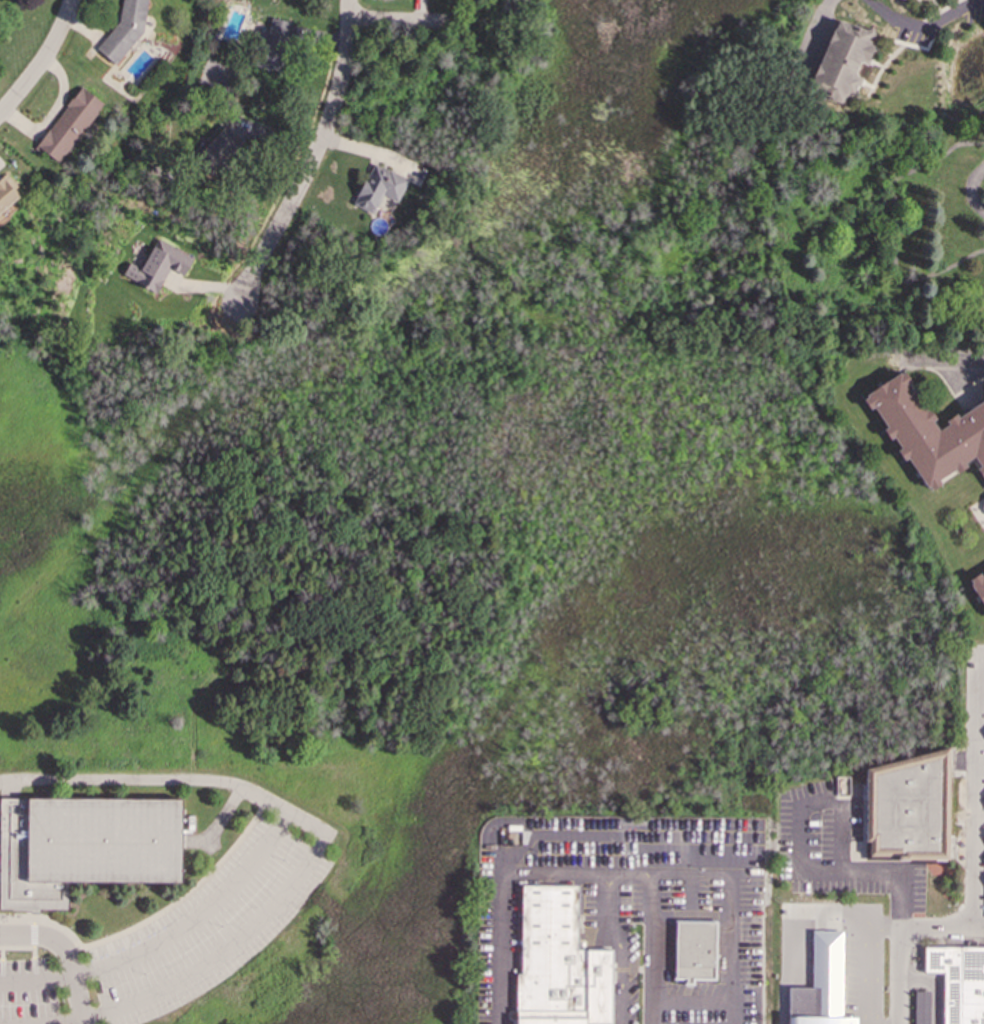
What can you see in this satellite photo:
road: (395, 19)
road: (922, 26)
road: (813, 33)
building: (275, 44)
building: (842, 60)
road: (43, 61)
building: (68, 124)
building: (219, 147)
road: (372, 151)
road: (312, 155)
building: (379, 187)
road: (970, 191)
building: (7, 192)
building: (158, 265)
road: (949, 359)
building: (927, 432)
building: (982, 501)
building: (983, 506)
building: (978, 586)
park: (239, 687)
road: (145, 778)
road: (977, 792)
road: (286, 810)
building: (908, 811)
road: (798, 843)
building: (84, 847)
parking lot: (615, 848)
parking lot: (838, 849)
road: (694, 872)
parking lot: (653, 918)
road: (883, 928)
road: (941, 929)
parking lot: (180, 932)
road: (619, 946)
road: (500, 947)
road: (799, 947)
road: (652, 948)
building: (694, 950)
parking lot: (497, 952)
road: (64, 953)
parking lot: (738, 954)
parking lot: (862, 959)
road: (898, 959)
building: (558, 963)
road: (870, 966)
building: (959, 981)
building: (821, 985)
road: (933, 986)
road: (691, 1002)
building: (921, 1007)
road: (58, 1021)

